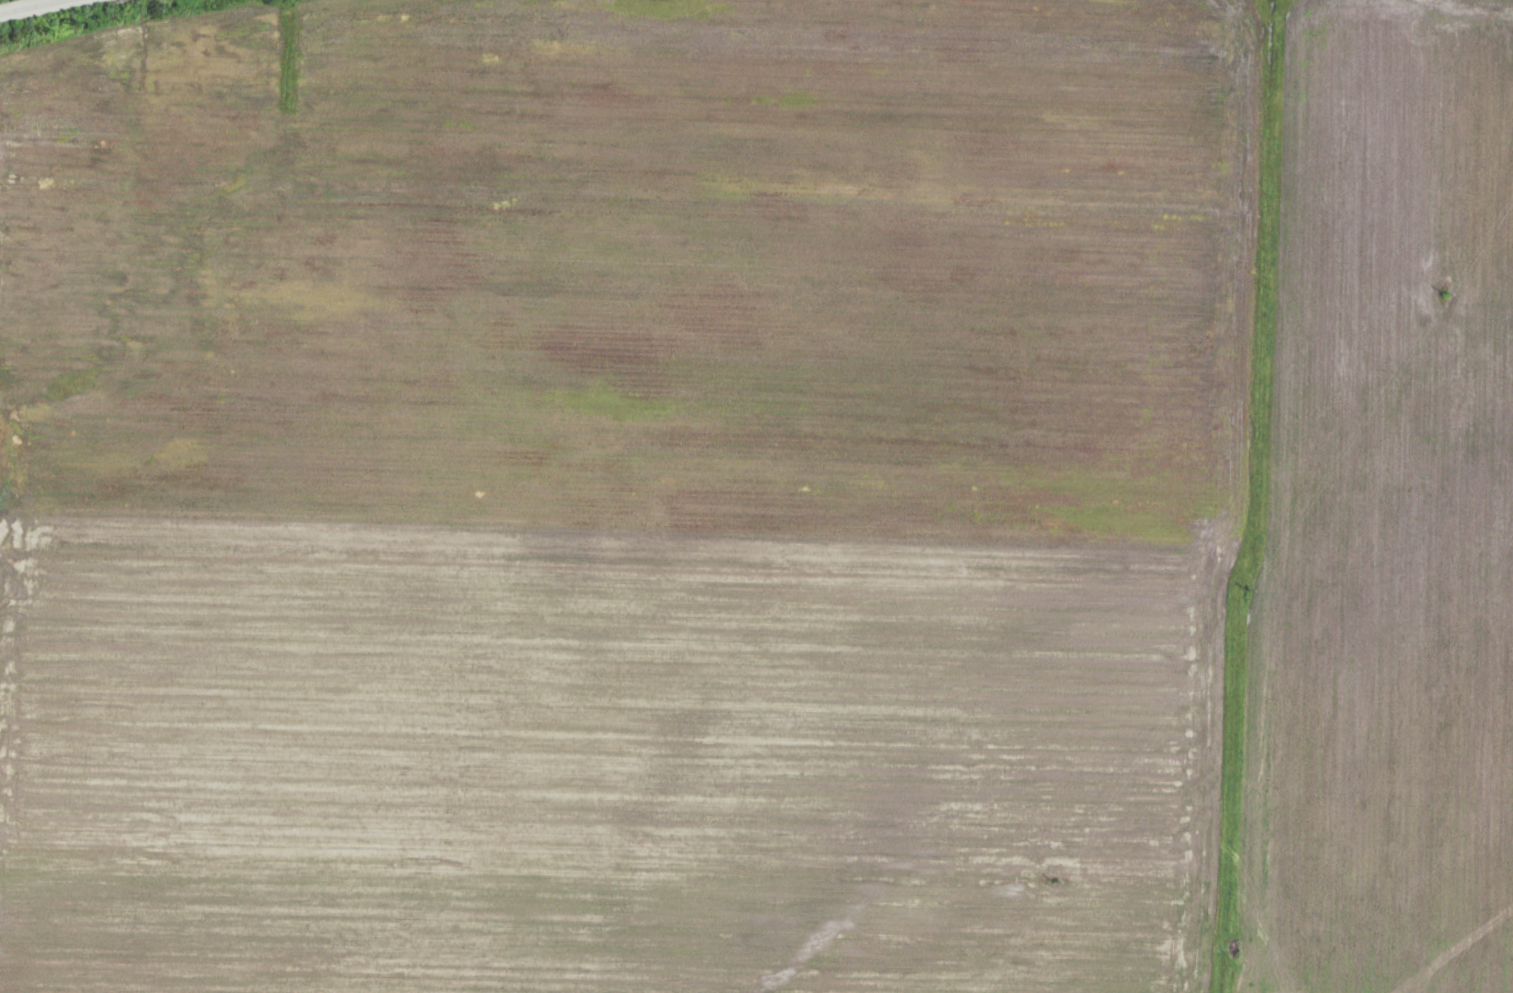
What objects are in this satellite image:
railway: (5, 1)

